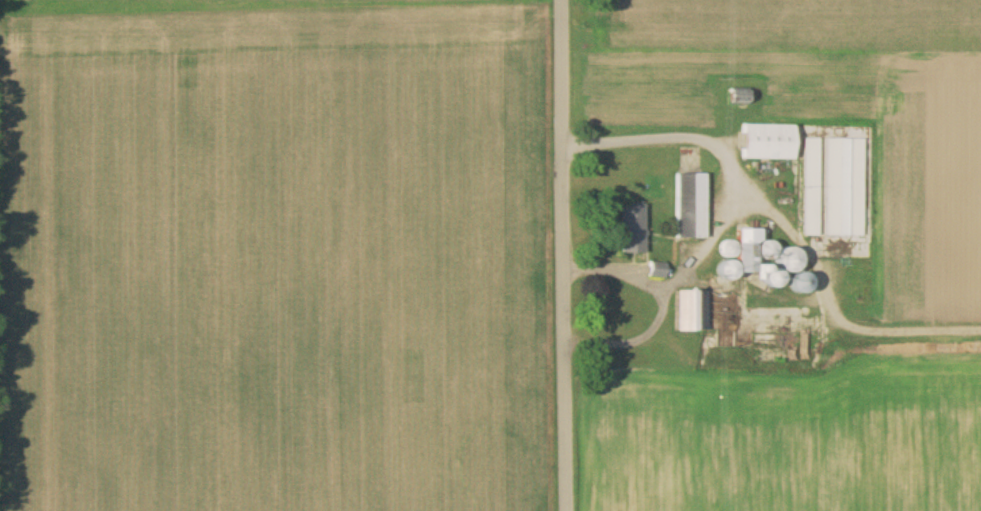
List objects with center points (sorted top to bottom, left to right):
building: (736, 97)
building: (766, 143)
building: (811, 188)
building: (844, 188)
building: (689, 206)
road: (784, 214)
building: (630, 229)
road: (713, 233)
road: (567, 255)
building: (737, 255)
building: (656, 270)
building: (768, 278)
road: (667, 298)
building: (691, 311)

